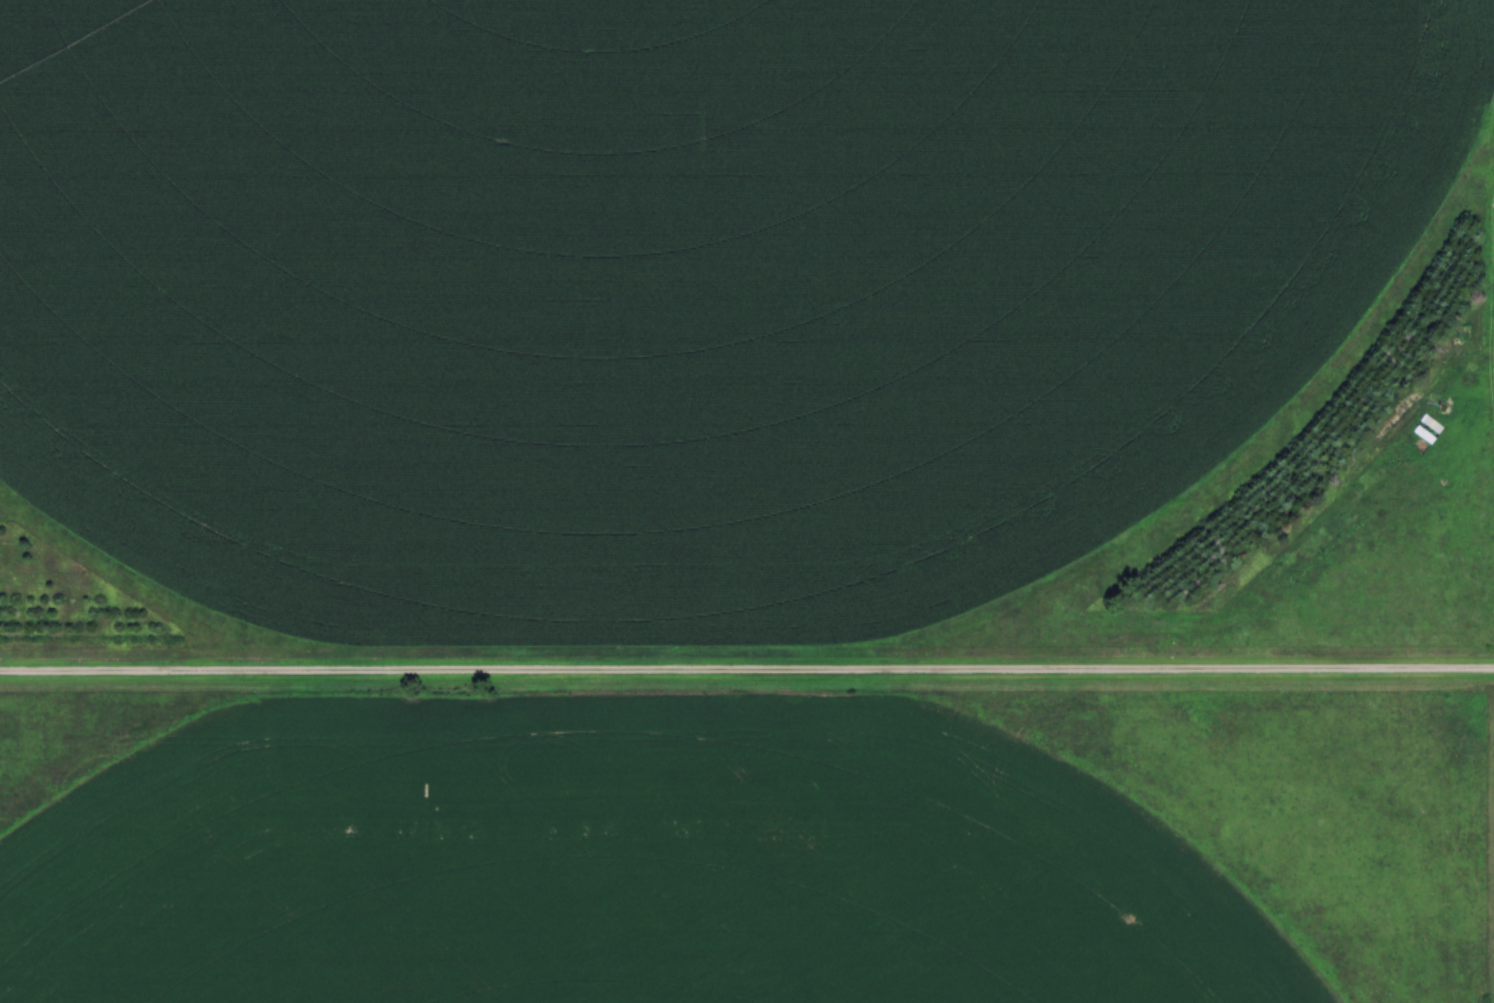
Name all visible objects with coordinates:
road: (747, 672)

